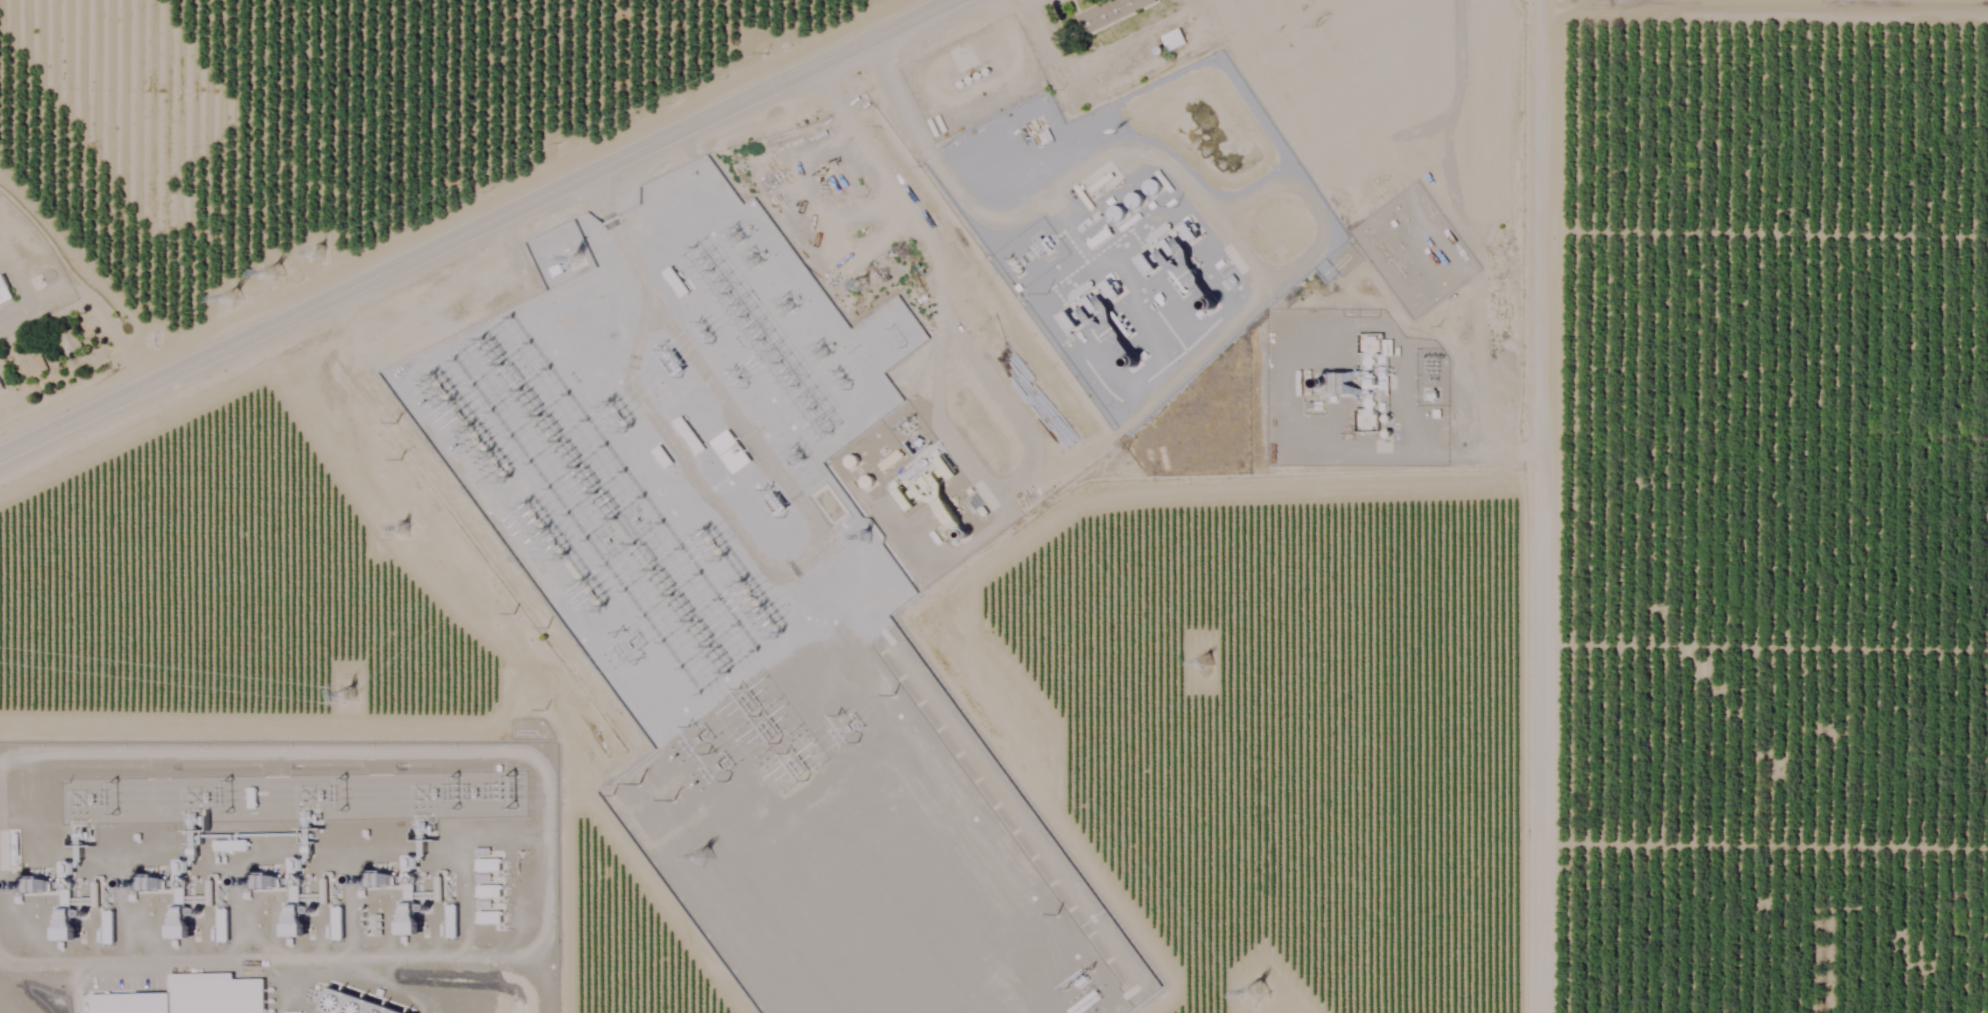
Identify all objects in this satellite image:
building: (1108, 11)
power tower: (767, 51)
power tower: (565, 142)
power tower: (828, 175)
building: (1117, 211)
power plant: (1141, 222)
road: (442, 234)
power tower: (326, 260)
building: (1180, 266)
road: (85, 280)
building: (676, 280)
power tower: (286, 281)
power tower: (863, 283)
building: (4, 289)
power tower: (244, 301)
chimney: (1207, 305)
power tower: (897, 337)
building: (70, 340)
chimney: (1130, 362)
building: (33, 364)
chimney: (1317, 383)
building: (1, 385)
power plant: (1353, 389)
building: (1367, 415)
power tower: (403, 422)
building: (689, 433)
building: (731, 450)
building: (662, 454)
building: (890, 458)
power tower: (402, 465)
power plant: (923, 483)
building: (932, 493)
road: (1521, 506)
chimney: (963, 535)
power tower: (870, 537)
power tower: (407, 541)
power substation: (763, 620)
power tower: (586, 654)
power tower: (1208, 664)
power tower: (354, 699)
power tower: (663, 739)
power tower: (633, 791)
power substation: (295, 801)
building: (230, 844)
building: (488, 863)
power tower: (719, 864)
power plant: (290, 872)
chimney: (254, 876)
chimney: (369, 877)
chimney: (22, 881)
chimney: (140, 881)
building: (489, 889)
building: (408, 894)
building: (180, 912)
building: (66, 916)
building: (489, 916)
building: (295, 919)
building: (452, 920)
building: (410, 921)
building: (108, 926)
building: (337, 927)
power tower: (1260, 992)
building: (190, 996)
building: (356, 1002)

